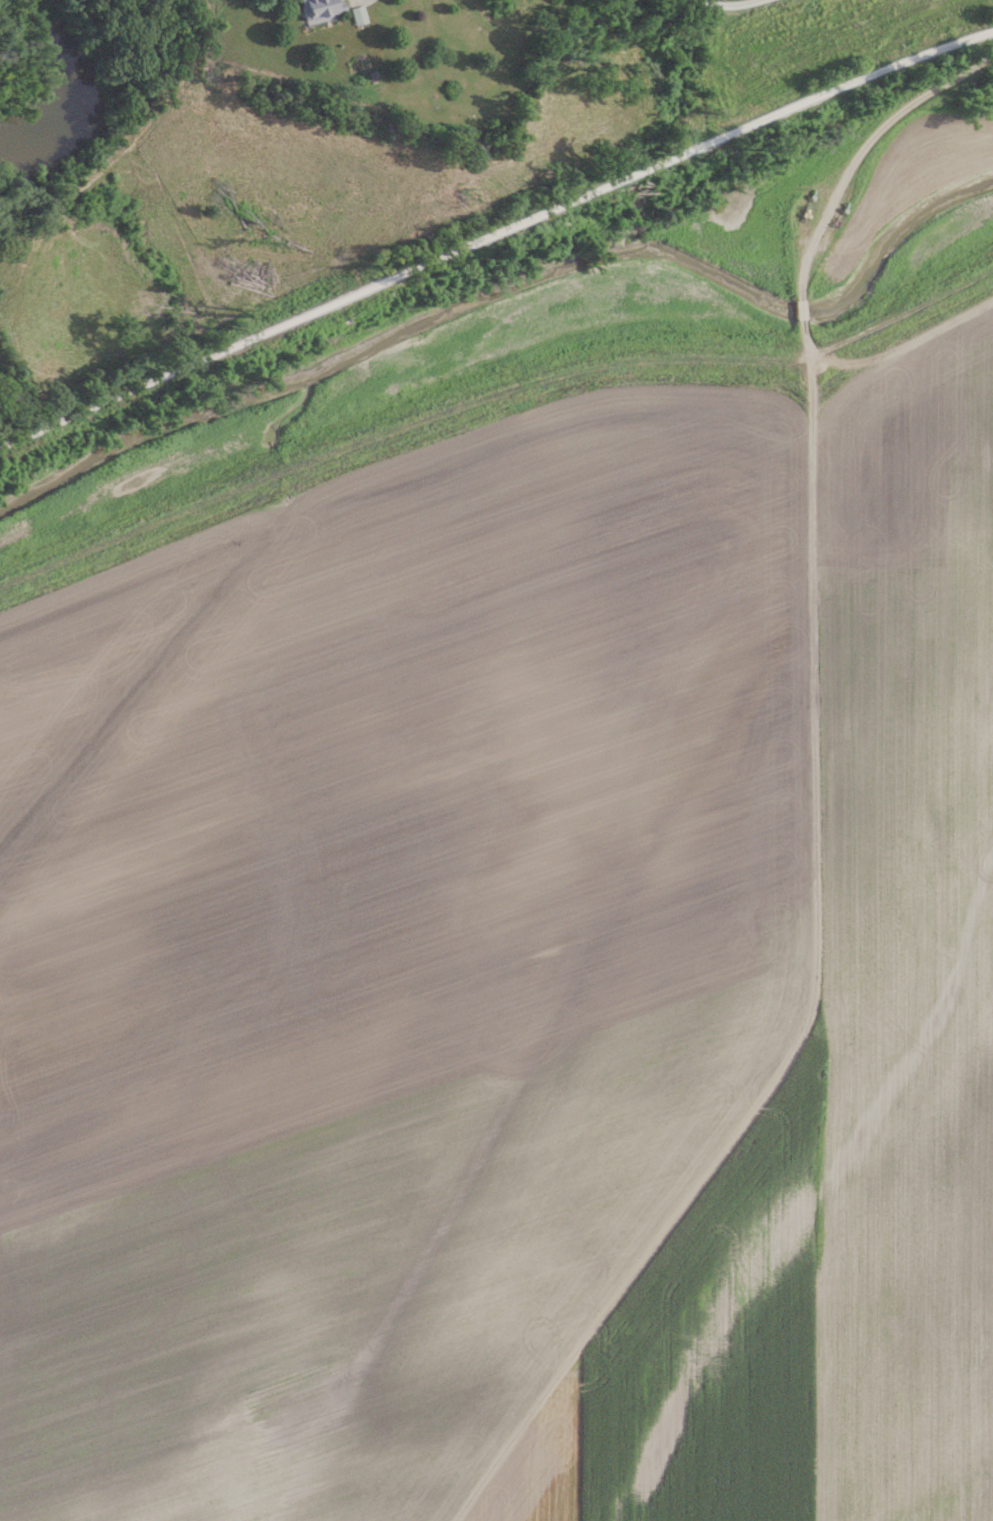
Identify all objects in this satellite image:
road: (735, 5)
building: (322, 8)
road: (822, 217)
road: (494, 236)

